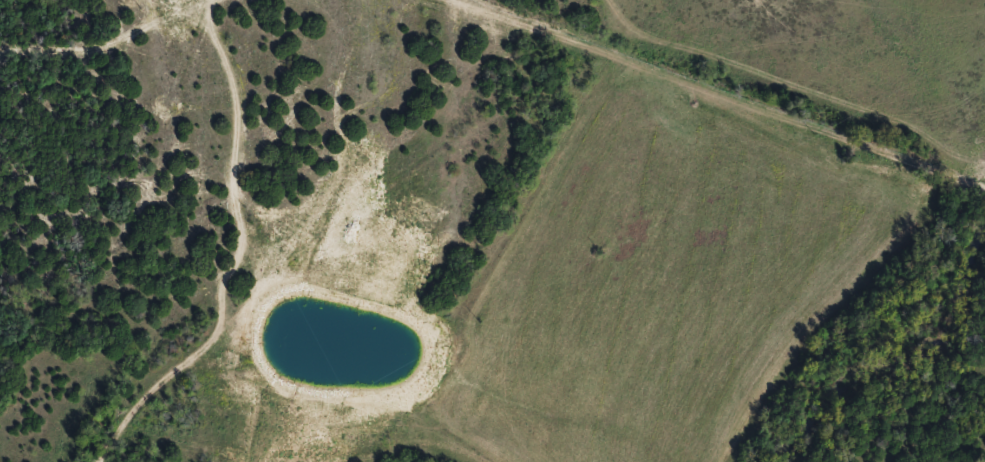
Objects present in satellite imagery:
road: (169, 188)

